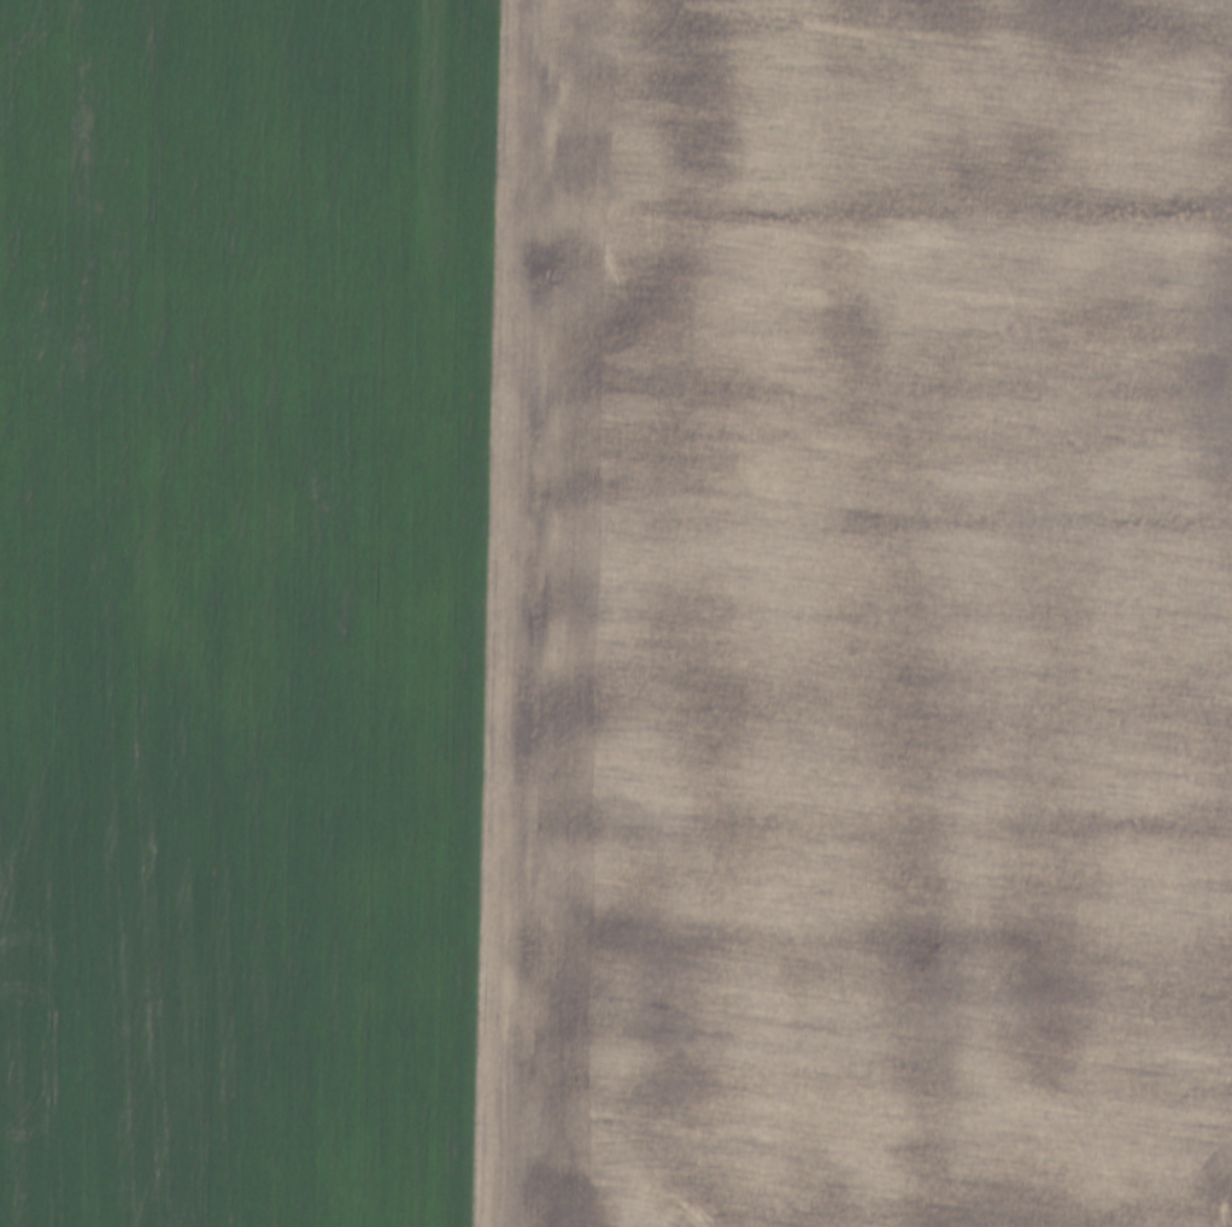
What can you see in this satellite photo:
crop: (239, 606)
crop: (855, 617)

